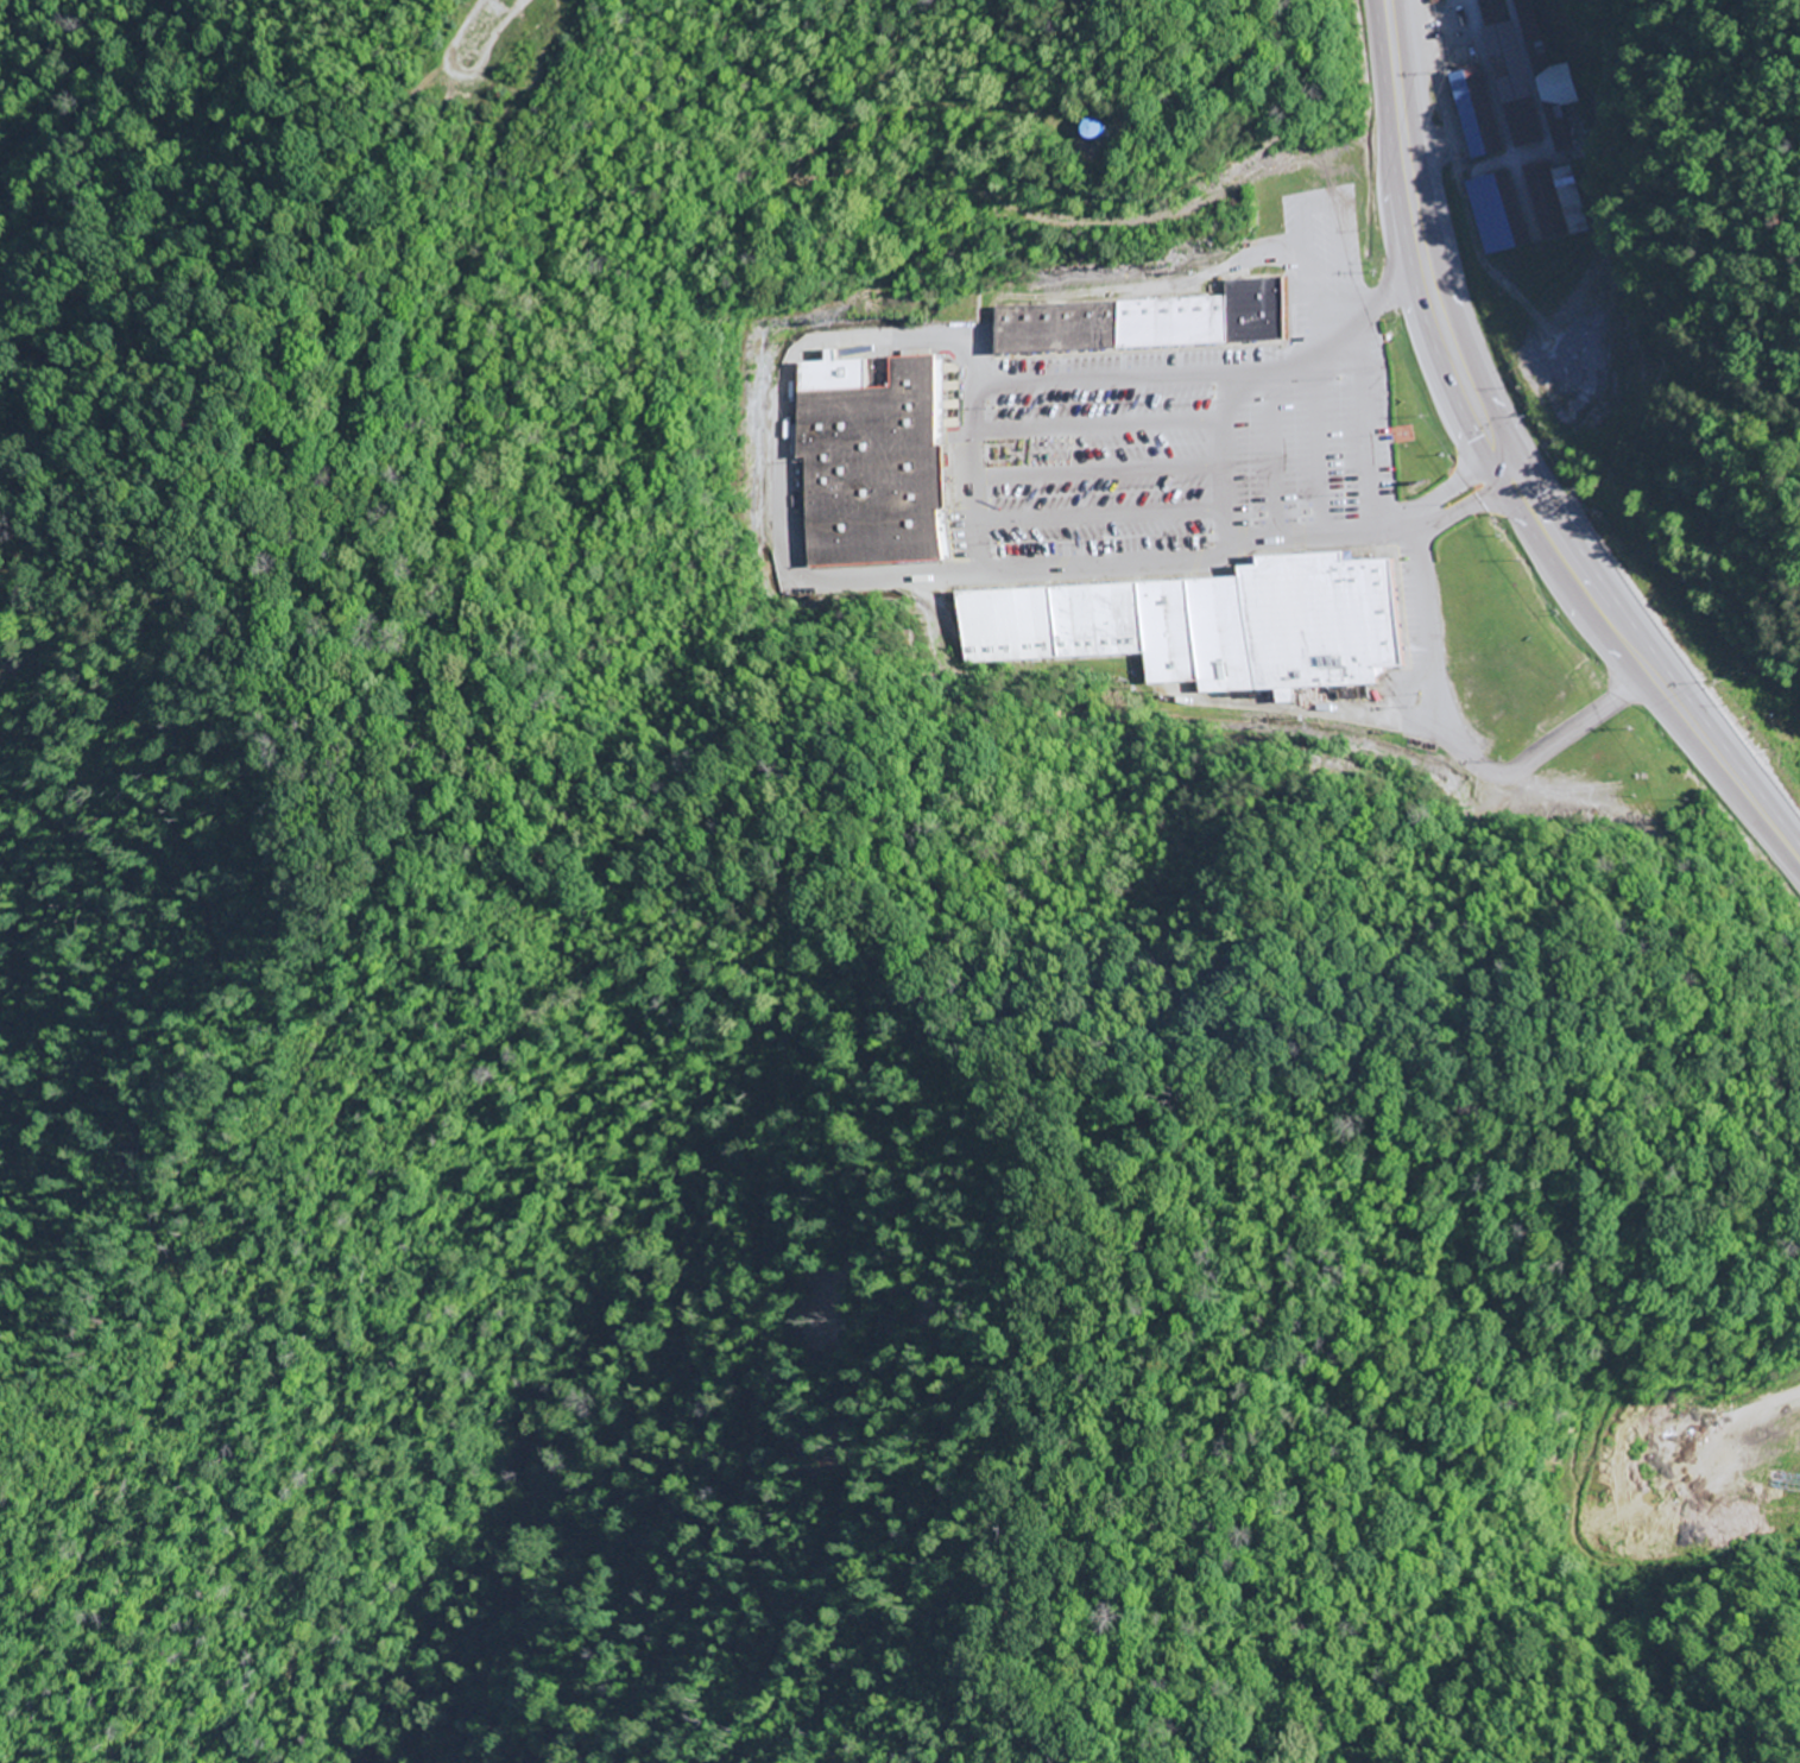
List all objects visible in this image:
road: (86, 64)
building: (1524, 76)
road: (100, 97)
building: (1477, 113)
building: (1090, 129)
road: (1403, 135)
road: (1305, 200)
building: (1550, 202)
building: (1496, 214)
road: (1394, 295)
building: (1142, 320)
road: (1175, 375)
parking lot: (1204, 424)
road: (1103, 426)
road: (1370, 429)
road: (1322, 446)
road: (975, 450)
road: (1276, 455)
road: (1230, 457)
building: (876, 463)
traffic signals: (1511, 470)
road: (1104, 473)
road: (1106, 520)
road: (1379, 532)
road: (816, 580)
road: (1586, 583)
building: (1206, 625)
road: (1459, 751)

